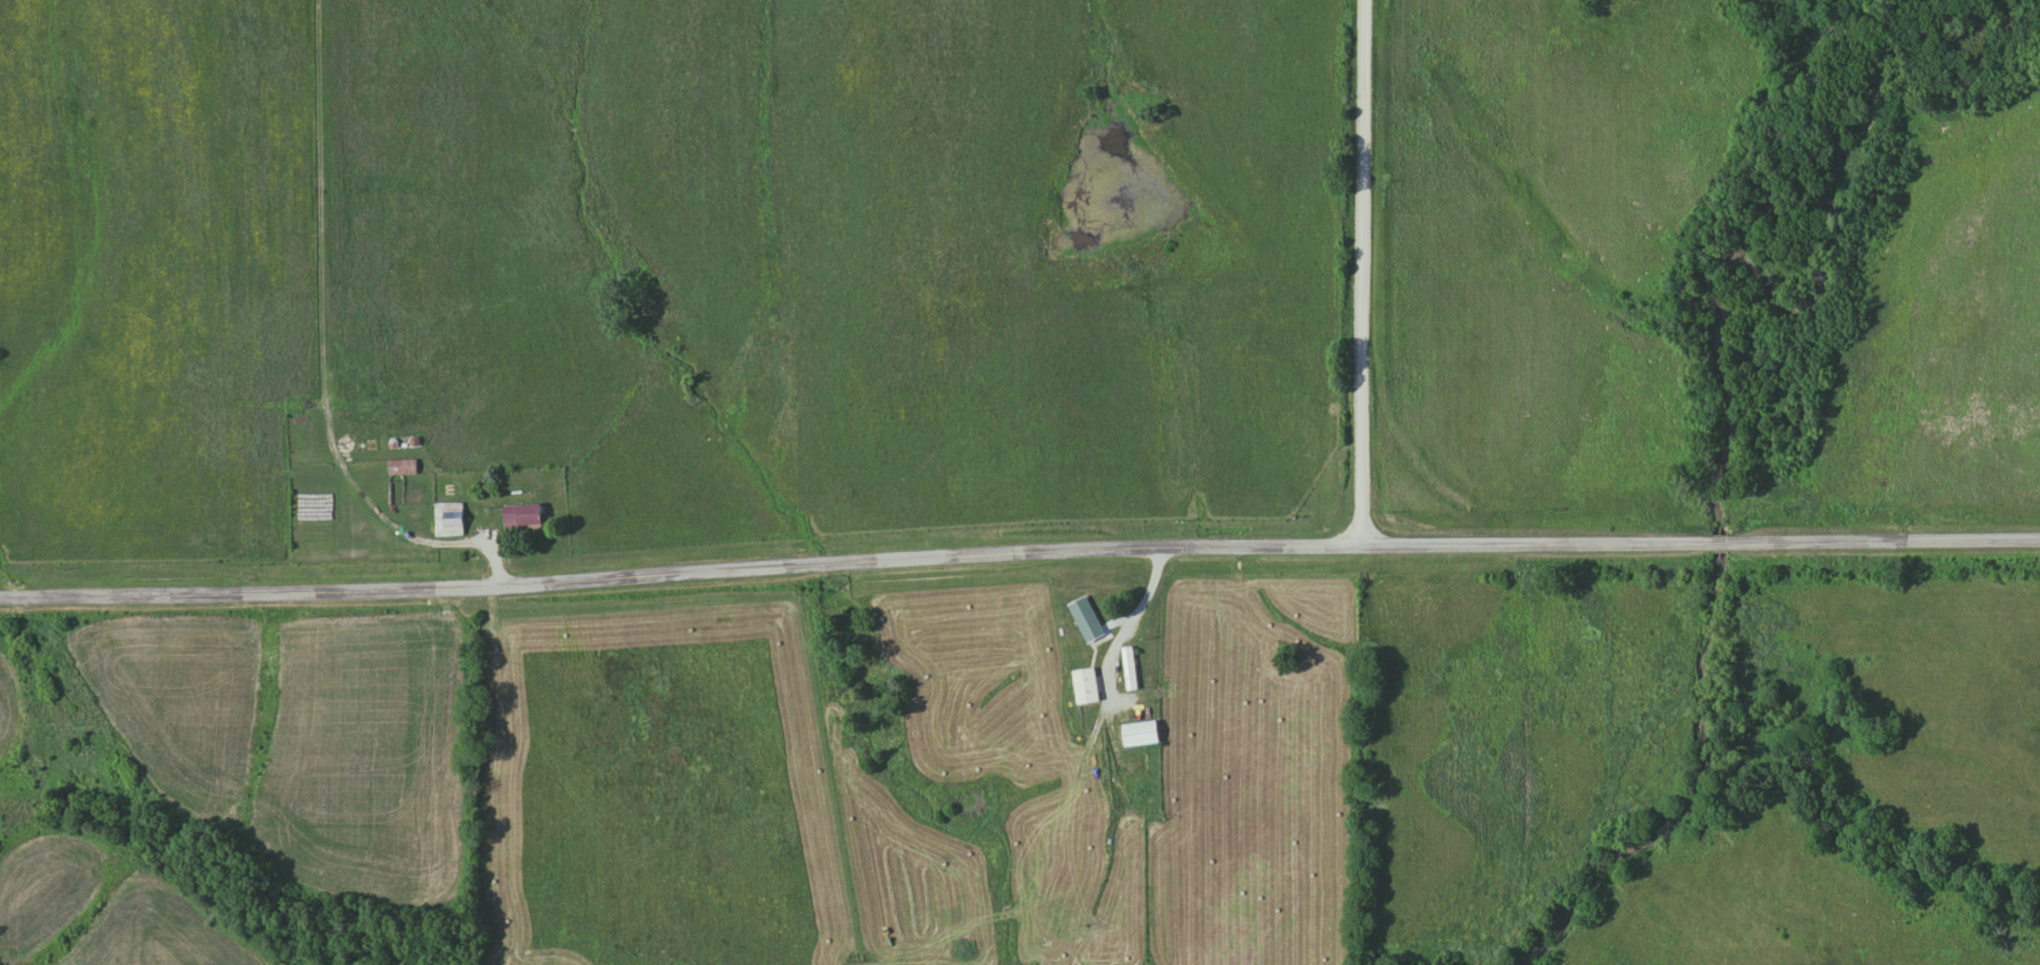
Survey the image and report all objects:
road: (1362, 272)
building: (523, 516)
building: (449, 519)
road: (1019, 551)
building: (1086, 619)
building: (1129, 668)
building: (1085, 686)
building: (1141, 733)

